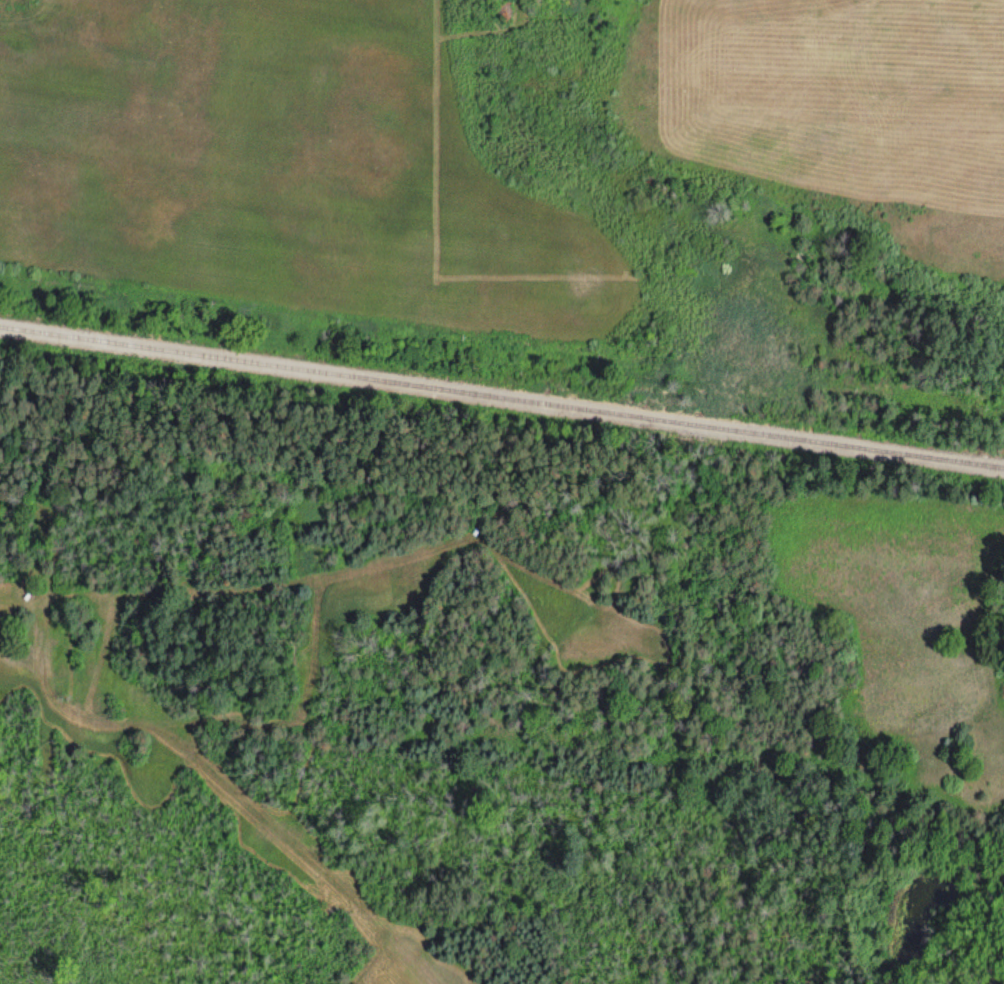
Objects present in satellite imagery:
railway: (502, 380)

